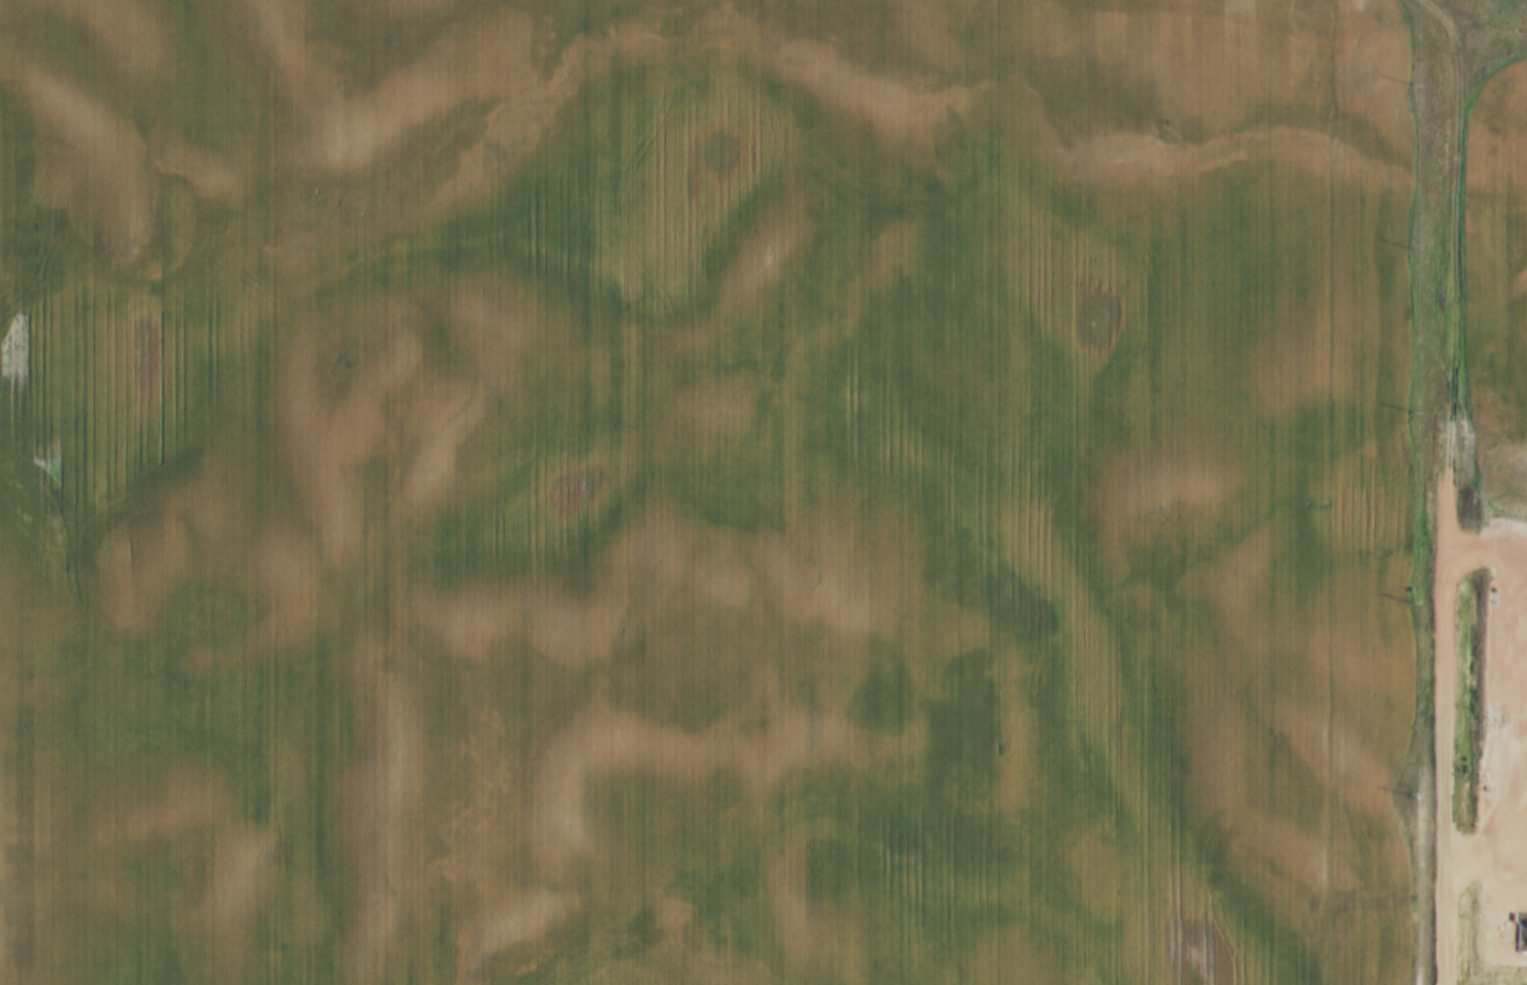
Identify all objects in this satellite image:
road: (1442, 16)
road: (1464, 444)
road: (1461, 918)
building: (1517, 937)
storage tank: (1517, 937)
building: (1525, 937)
storage tank: (1525, 937)

